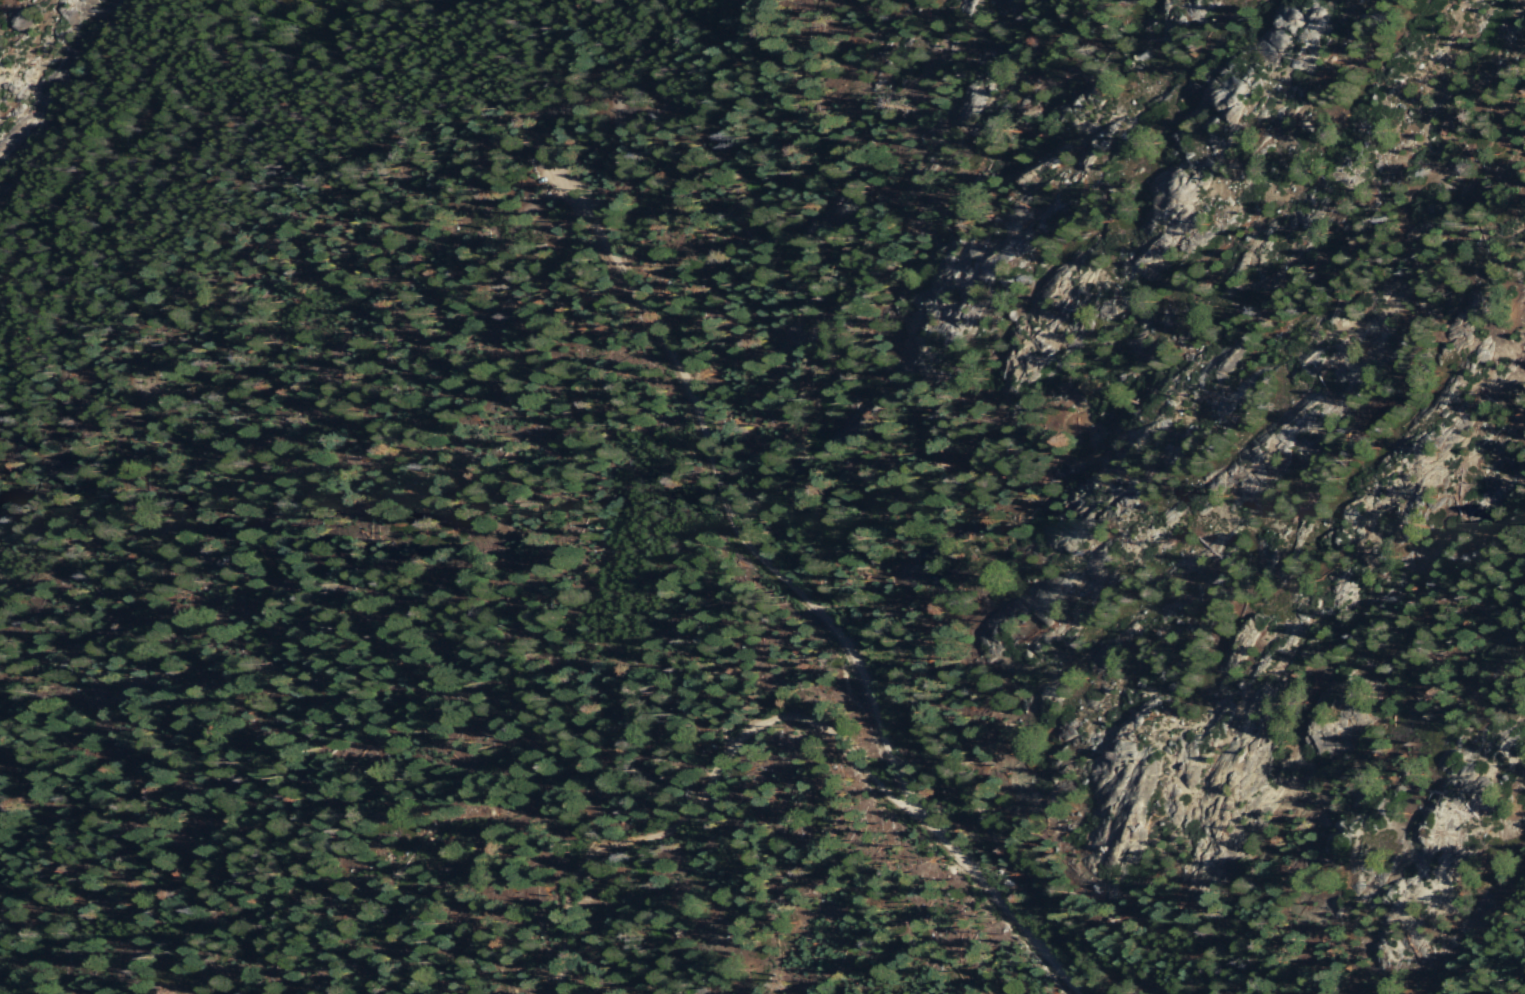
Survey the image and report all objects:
road: (607, 45)
road: (597, 138)
parking lot: (559, 167)
road: (332, 233)
road: (784, 592)
road: (705, 806)

